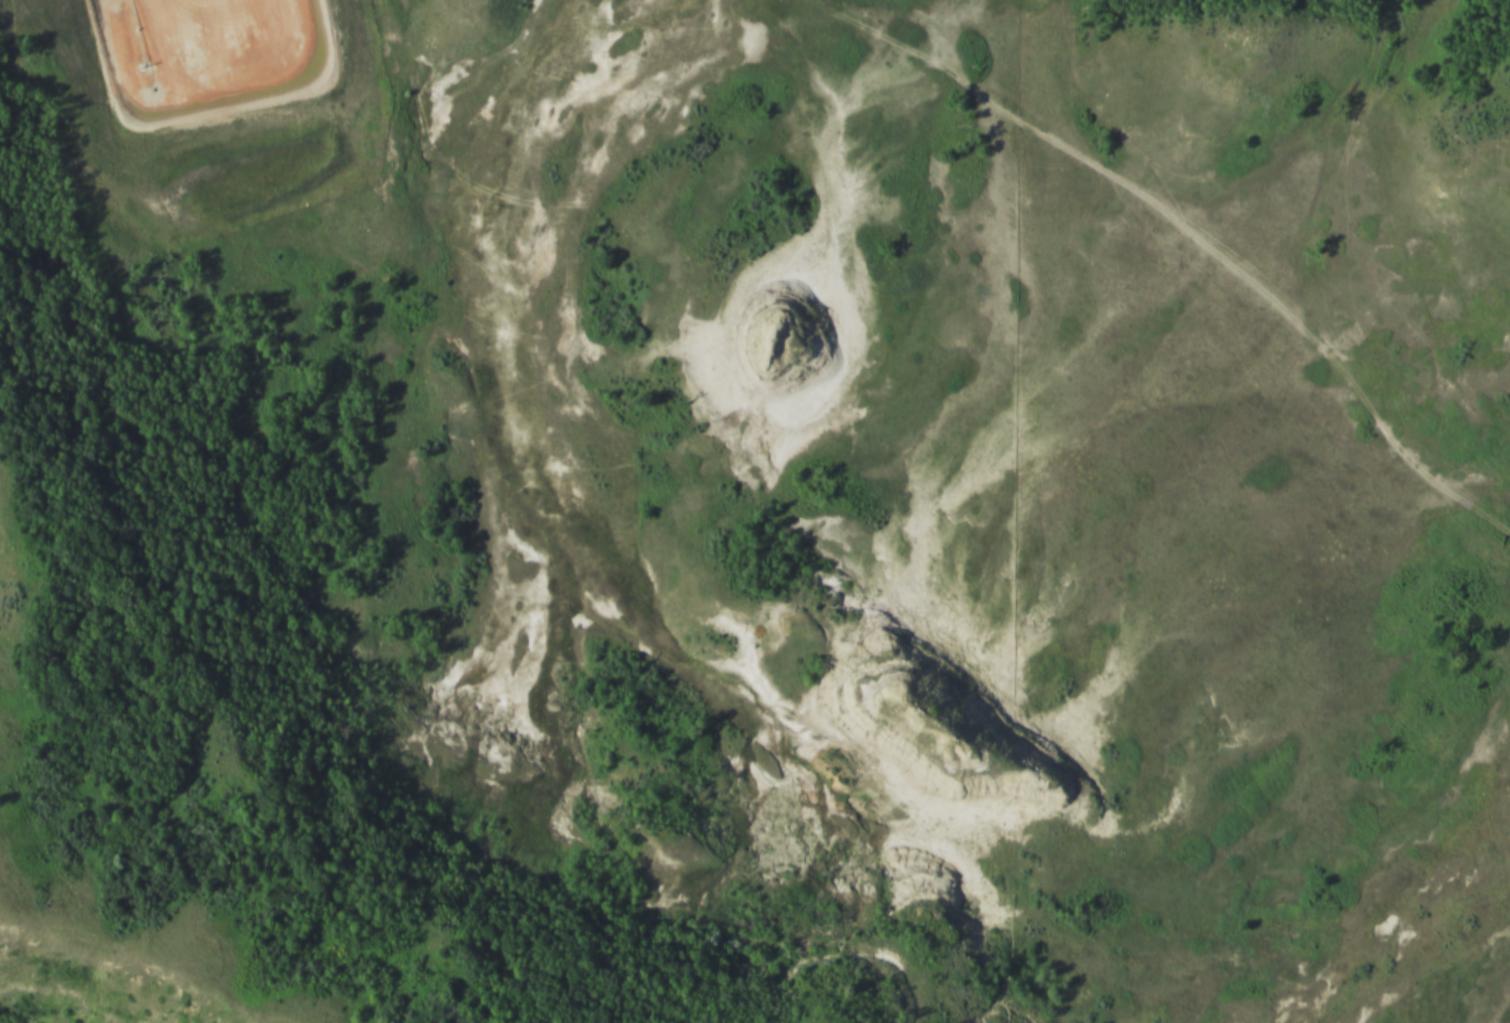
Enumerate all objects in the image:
road: (185, 3)
road: (1168, 266)

